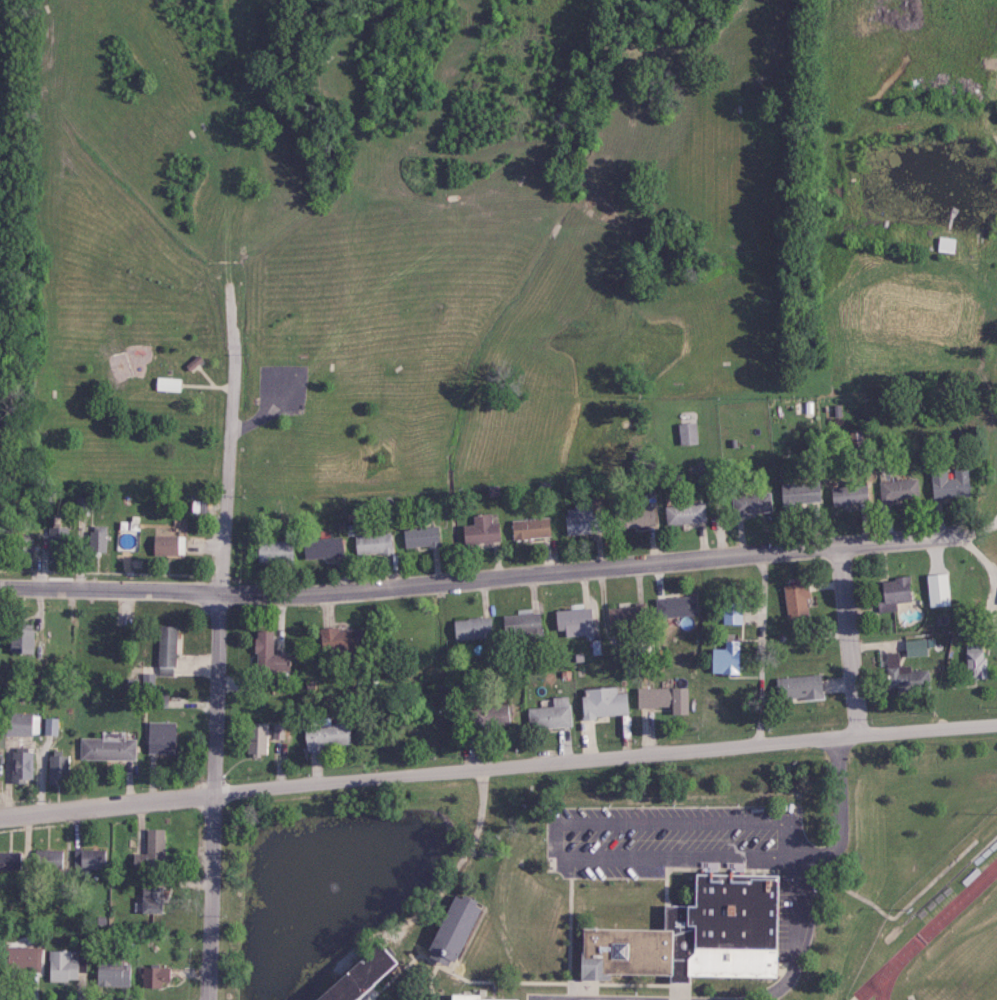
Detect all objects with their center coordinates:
park: (390, 239)
building: (167, 383)
parking lot: (281, 385)
road: (243, 417)
building: (686, 432)
road: (229, 439)
building: (949, 483)
building: (898, 490)
building: (799, 492)
building: (848, 495)
building: (750, 503)
building: (82, 505)
building: (684, 513)
road: (996, 514)
road: (996, 515)
building: (634, 517)
building: (583, 520)
road: (977, 524)
building: (530, 528)
building: (480, 530)
building: (127, 534)
building: (58, 535)
building: (418, 536)
building: (97, 538)
building: (372, 543)
building: (166, 544)
building: (22, 547)
building: (321, 547)
building: (273, 551)
road: (479, 577)
building: (937, 589)
building: (893, 593)
building: (795, 599)
building: (674, 606)
building: (731, 612)
building: (573, 621)
building: (520, 623)
building: (471, 628)
building: (20, 638)
road: (847, 638)
building: (338, 639)
building: (166, 645)
building: (917, 646)
building: (267, 654)
building: (724, 658)
building: (974, 661)
building: (903, 674)
building: (797, 687)
building: (662, 698)
building: (602, 701)
building: (495, 714)
building: (550, 714)
building: (21, 724)
building: (625, 724)
building: (51, 725)
building: (278, 730)
building: (325, 733)
building: (159, 736)
building: (255, 737)
building: (2, 738)
building: (106, 747)
building: (21, 765)
road: (498, 765)
building: (57, 767)
road: (213, 795)
parking lot: (669, 835)
building: (154, 847)
building: (89, 857)
building: (47, 859)
building: (9, 860)
road: (792, 861)
building: (149, 899)
parking lot: (794, 911)
road: (897, 912)
building: (451, 929)
track: (923, 932)
building: (691, 933)
building: (22, 958)
park: (965, 963)
building: (62, 966)
building: (113, 973)
building: (153, 976)
building: (358, 978)
road: (539, 978)
road: (620, 984)
road: (623, 992)
road: (375, 998)
building: (477, 998)
road: (558, 998)

